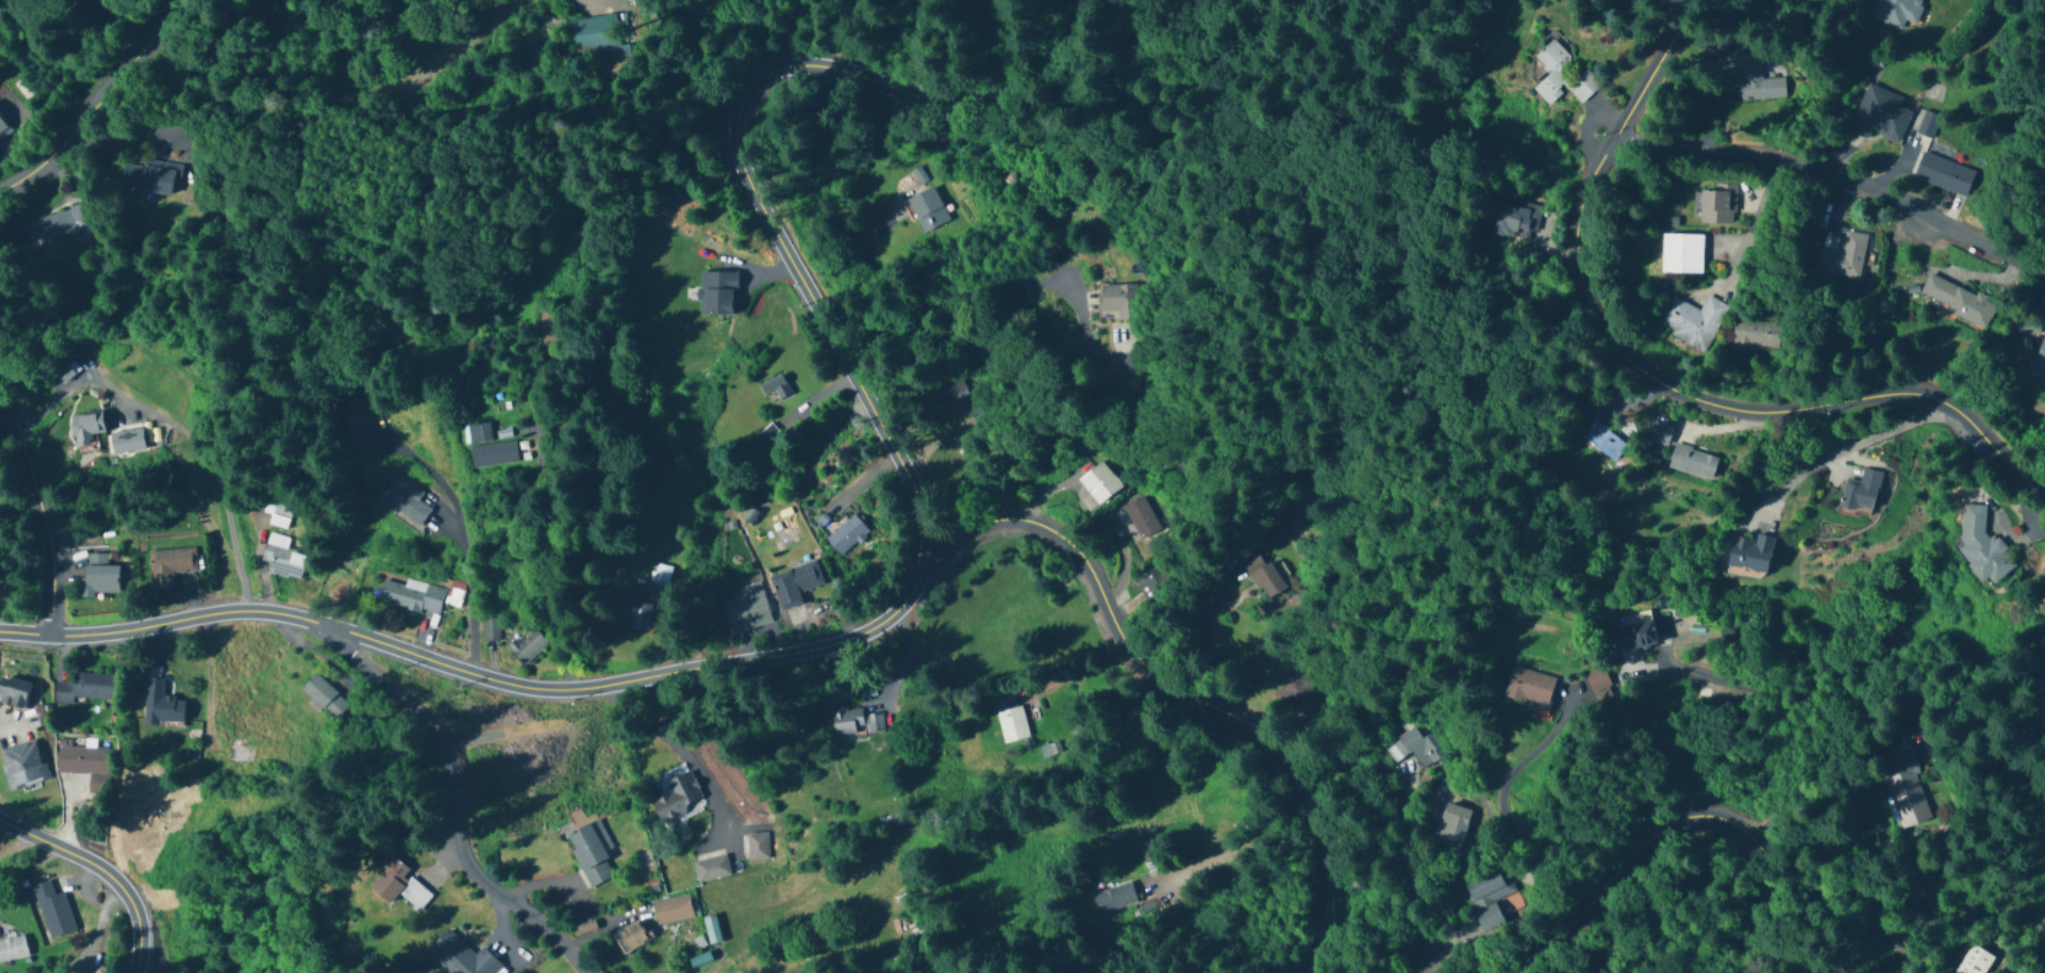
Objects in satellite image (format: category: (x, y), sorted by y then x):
building: (1896, 13)
building: (598, 35)
building: (1562, 77)
building: (1756, 81)
road: (96, 103)
building: (1880, 115)
building: (1927, 126)
building: (3, 130)
road: (739, 154)
building: (1944, 175)
road: (1837, 177)
building: (147, 178)
building: (1717, 205)
building: (927, 211)
road: (1753, 222)
building: (1515, 223)
building: (56, 227)
building: (1682, 255)
building: (1843, 259)
road: (978, 292)
building: (1120, 301)
building: (1957, 302)
building: (1693, 322)
building: (2027, 330)
building: (1756, 334)
building: (2040, 356)
road: (1650, 376)
building: (775, 389)
building: (952, 396)
building: (355, 418)
building: (86, 428)
road: (180, 431)
building: (479, 433)
building: (1657, 433)
building: (769, 436)
building: (1599, 442)
road: (1841, 447)
building: (494, 454)
building: (1693, 462)
building: (1100, 483)
building: (1862, 493)
building: (405, 499)
road: (2023, 499)
road: (40, 514)
building: (281, 516)
building: (847, 535)
road: (460, 540)
building: (1981, 549)
building: (1751, 555)
building: (282, 557)
building: (173, 561)
building: (661, 575)
building: (2042, 575)
building: (1263, 576)
building: (101, 581)
building: (1155, 582)
building: (795, 584)
building: (413, 598)
building: (747, 608)
building: (640, 616)
building: (1636, 636)
building: (1725, 637)
road: (1206, 641)
building: (528, 647)
road: (1067, 672)
road: (482, 674)
building: (1598, 683)
building: (85, 687)
building: (1529, 688)
building: (13, 691)
road: (1187, 694)
building: (324, 697)
building: (1298, 697)
building: (1009, 715)
building: (856, 721)
road: (681, 745)
building: (1416, 747)
building: (1050, 749)
building: (239, 750)
building: (23, 765)
building: (86, 765)
building: (1902, 782)
building: (678, 798)
road: (454, 804)
road: (1681, 817)
building: (893, 821)
building: (1452, 825)
road: (8, 840)
road: (2, 846)
building: (756, 847)
building: (591, 853)
building: (1152, 858)
building: (711, 869)
road: (102, 871)
building: (399, 884)
road: (80, 891)
building: (1115, 897)
building: (1486, 898)
building: (672, 910)
building: (54, 911)
road: (1971, 912)
road: (94, 935)
building: (633, 936)
building: (12, 949)
road: (1871, 949)
building: (461, 956)
building: (700, 960)
building: (1974, 960)

